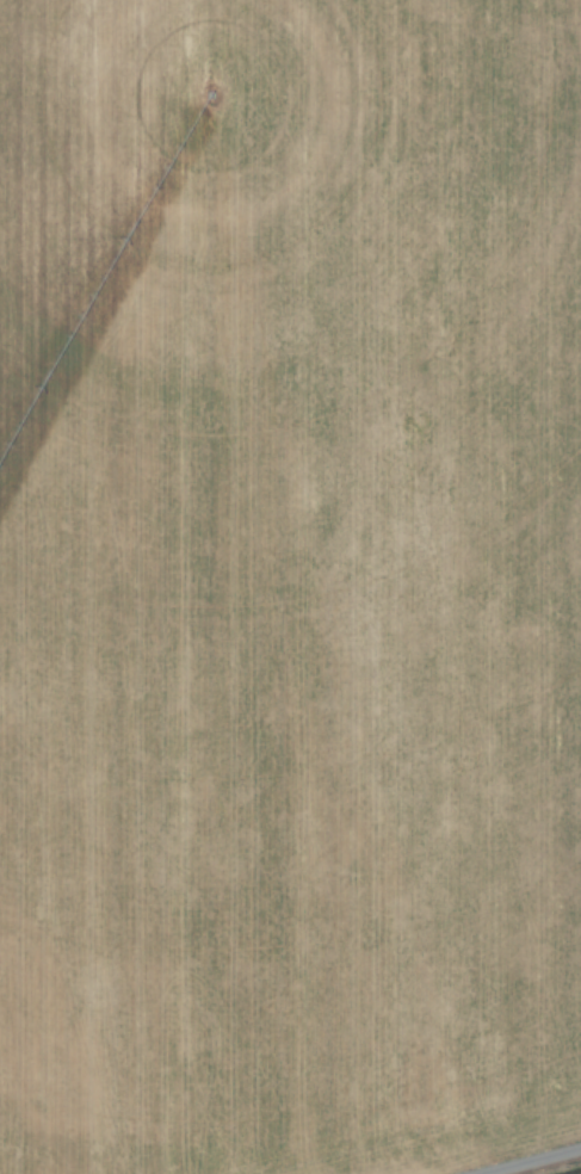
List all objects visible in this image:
crop: (290, 587)
road: (527, 1160)

